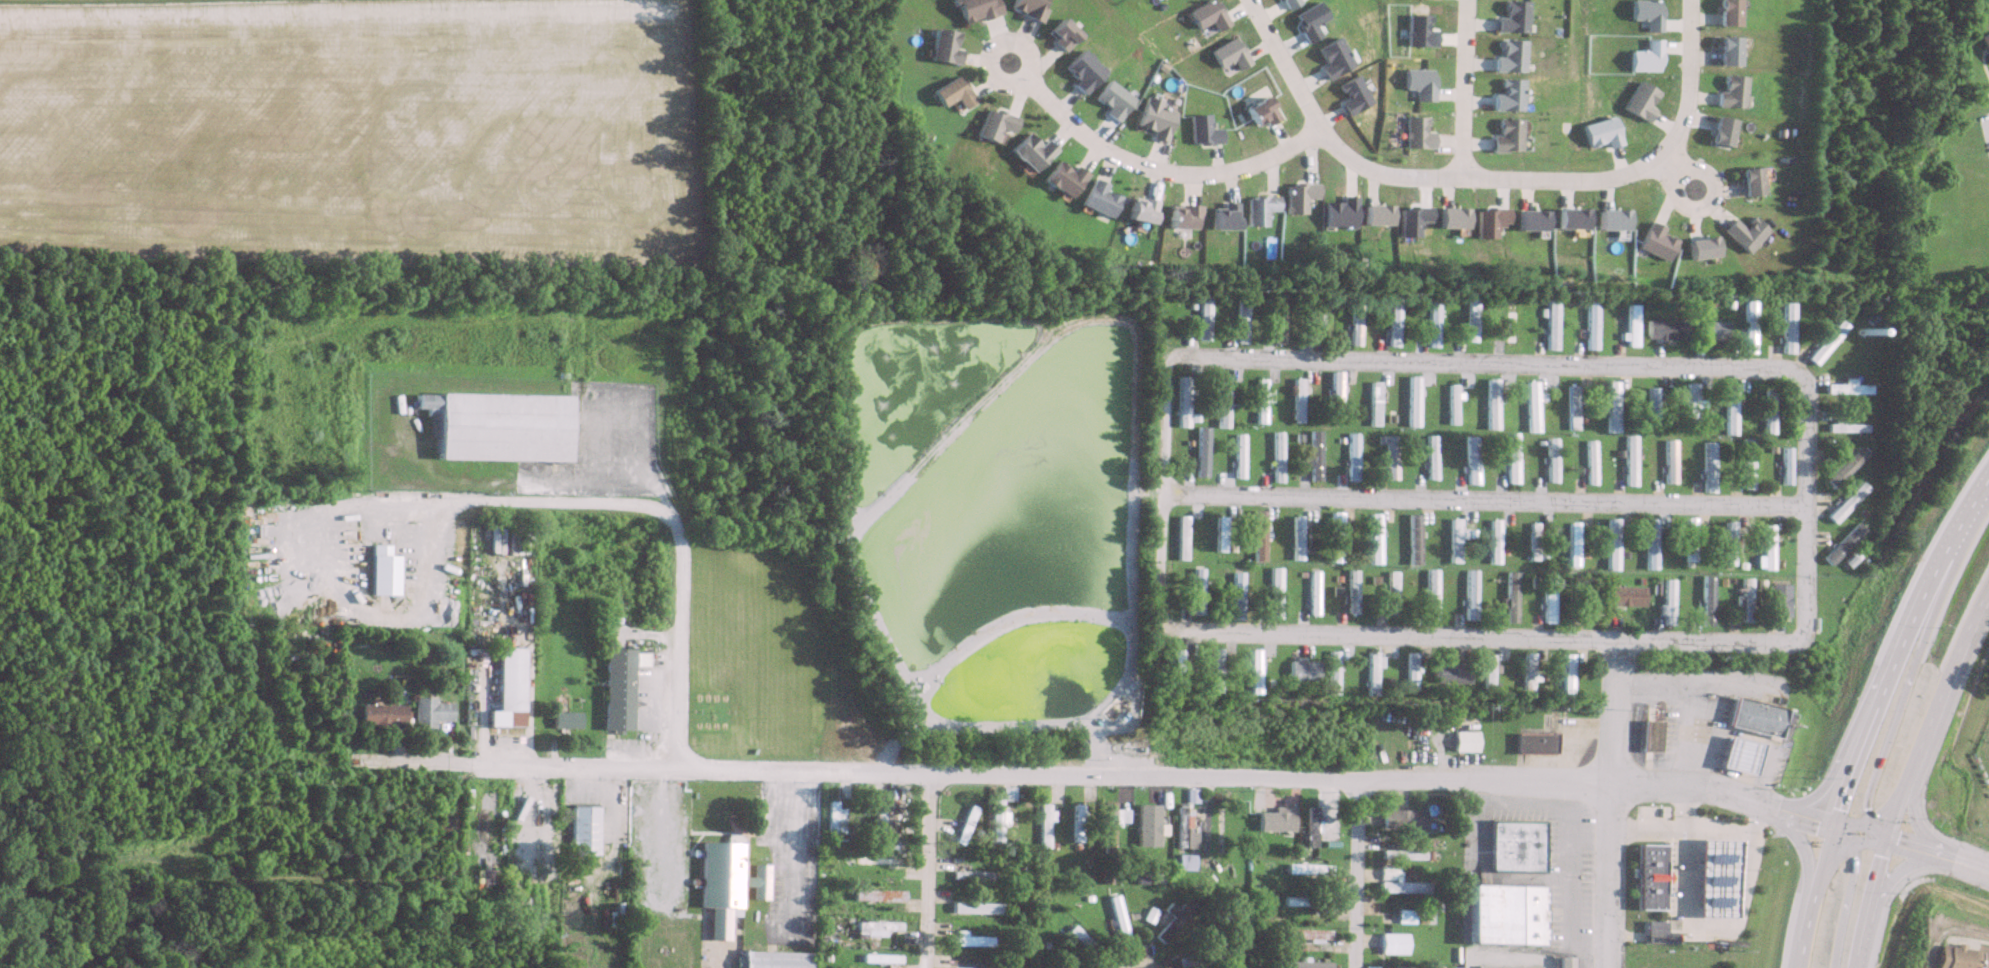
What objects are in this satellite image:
crop: (151, 1)
building: (1025, 8)
building: (972, 10)
building: (1726, 12)
building: (1206, 15)
building: (1983, 44)
building: (941, 47)
road: (1023, 54)
building: (1229, 57)
building: (1336, 58)
road: (1462, 88)
building: (1730, 92)
building: (949, 93)
building: (1263, 111)
building: (990, 125)
crop: (355, 128)
building: (1718, 131)
building: (1508, 136)
building: (1028, 152)
road: (1157, 169)
road: (1676, 171)
road: (1489, 177)
building: (1060, 179)
building: (1748, 182)
building: (1095, 200)
building: (1201, 316)
building: (1240, 316)
building: (1279, 317)
building: (1357, 319)
building: (1474, 319)
building: (1395, 320)
building: (1318, 321)
building: (1434, 321)
building: (1512, 321)
building: (1552, 324)
building: (1591, 324)
building: (1630, 325)
building: (1747, 326)
building: (1786, 328)
building: (1666, 330)
building: (1709, 330)
building: (1825, 342)
road: (1350, 360)
building: (1846, 388)
building: (1336, 399)
building: (1297, 400)
building: (1180, 401)
building: (1259, 401)
building: (1415, 401)
building: (1220, 402)
building: (1376, 403)
building: (1454, 403)
building: (1492, 404)
building: (1531, 406)
building: (1609, 406)
building: (1649, 406)
building: (1688, 406)
building: (1571, 407)
building: (1727, 409)
building: (1766, 411)
building: (1433, 415)
building: (1395, 419)
building: (495, 426)
building: (1845, 427)
building: (1198, 451)
building: (1314, 455)
building: (1821, 455)
building: (1236, 456)
building: (1274, 456)
building: (1353, 456)
building: (1432, 457)
building: (1509, 457)
building: (1549, 459)
building: (1471, 460)
building: (1627, 460)
building: (1667, 461)
building: (1588, 462)
building: (1744, 463)
building: (1705, 465)
building: (1843, 467)
road: (1481, 500)
building: (1845, 502)
wastewater plant: (1001, 526)
road: (666, 530)
building: (1217, 534)
building: (1256, 535)
building: (1294, 537)
building: (1334, 537)
building: (1179, 538)
building: (1373, 538)
building: (1412, 539)
building: (1451, 541)
building: (1490, 541)
building: (1529, 541)
building: (1725, 542)
building: (1646, 543)
building: (1686, 543)
building: (1841, 543)
building: (1569, 544)
building: (1608, 544)
building: (1629, 544)
building: (1763, 546)
building: (1313, 550)
building: (379, 570)
building: (1194, 589)
building: (1234, 589)
building: (1351, 591)
building: (1273, 592)
building: (1312, 592)
building: (1391, 592)
building: (1429, 594)
building: (1468, 594)
building: (1508, 596)
building: (1623, 596)
building: (1546, 597)
building: (1586, 597)
building: (1259, 600)
building: (1704, 600)
building: (1740, 600)
building: (1776, 600)
building: (1664, 602)
road: (1897, 643)
building: (1175, 666)
building: (1214, 670)
building: (1302, 670)
building: (1409, 670)
building: (1253, 671)
building: (1488, 671)
building: (1331, 672)
building: (1451, 672)
building: (1371, 673)
building: (1526, 675)
road: (1905, 675)
building: (1566, 676)
building: (506, 688)
building: (615, 688)
road: (1692, 698)
road: (1931, 708)
building: (426, 711)
building: (378, 714)
road: (1615, 714)
building: (1750, 717)
building: (563, 720)
road: (1847, 730)
building: (1651, 735)
building: (1464, 740)
building: (1535, 742)
building: (1736, 754)
road: (516, 761)
road: (1229, 778)
road: (1686, 805)
traffic signals: (1838, 808)
traffic signals: (1866, 808)
building: (997, 815)
building: (832, 817)
building: (877, 817)
road: (1917, 817)
building: (1401, 818)
road: (1808, 818)
traffic signals: (1817, 821)
building: (1075, 822)
building: (1109, 824)
building: (1042, 825)
road: (1695, 825)
building: (1309, 826)
road: (1477, 826)
road: (1571, 826)
building: (1182, 828)
building: (1140, 829)
building: (580, 830)
road: (1860, 832)
traffic signals: (1898, 842)
building: (1517, 846)
road: (1913, 846)
road: (1803, 853)
road: (794, 854)
building: (1401, 854)
traffic signals: (1883, 856)
traffic signals: (1854, 858)
building: (879, 860)
building: (1183, 861)
road: (1964, 863)
building: (840, 866)
building: (1301, 868)
road: (920, 871)
building: (1386, 871)
building: (726, 874)
road: (1358, 874)
building: (484, 875)
building: (970, 875)
road: (1898, 875)
road: (1611, 876)
building: (1652, 876)
building: (1717, 877)
building: (1401, 887)
road: (1849, 893)
building: (874, 895)
road: (1816, 896)
building: (1304, 901)
road: (1871, 903)
building: (974, 907)
building: (1505, 913)
building: (1116, 916)
building: (1401, 916)
building: (1172, 918)
building: (877, 927)
building: (1658, 930)
building: (1305, 934)
building: (967, 939)
building: (1083, 943)
building: (1391, 943)
building: (1960, 957)
building: (878, 958)
building: (772, 959)
building: (1564, 962)
building: (1302, 964)
building: (1508, 966)
building: (1369, 967)

